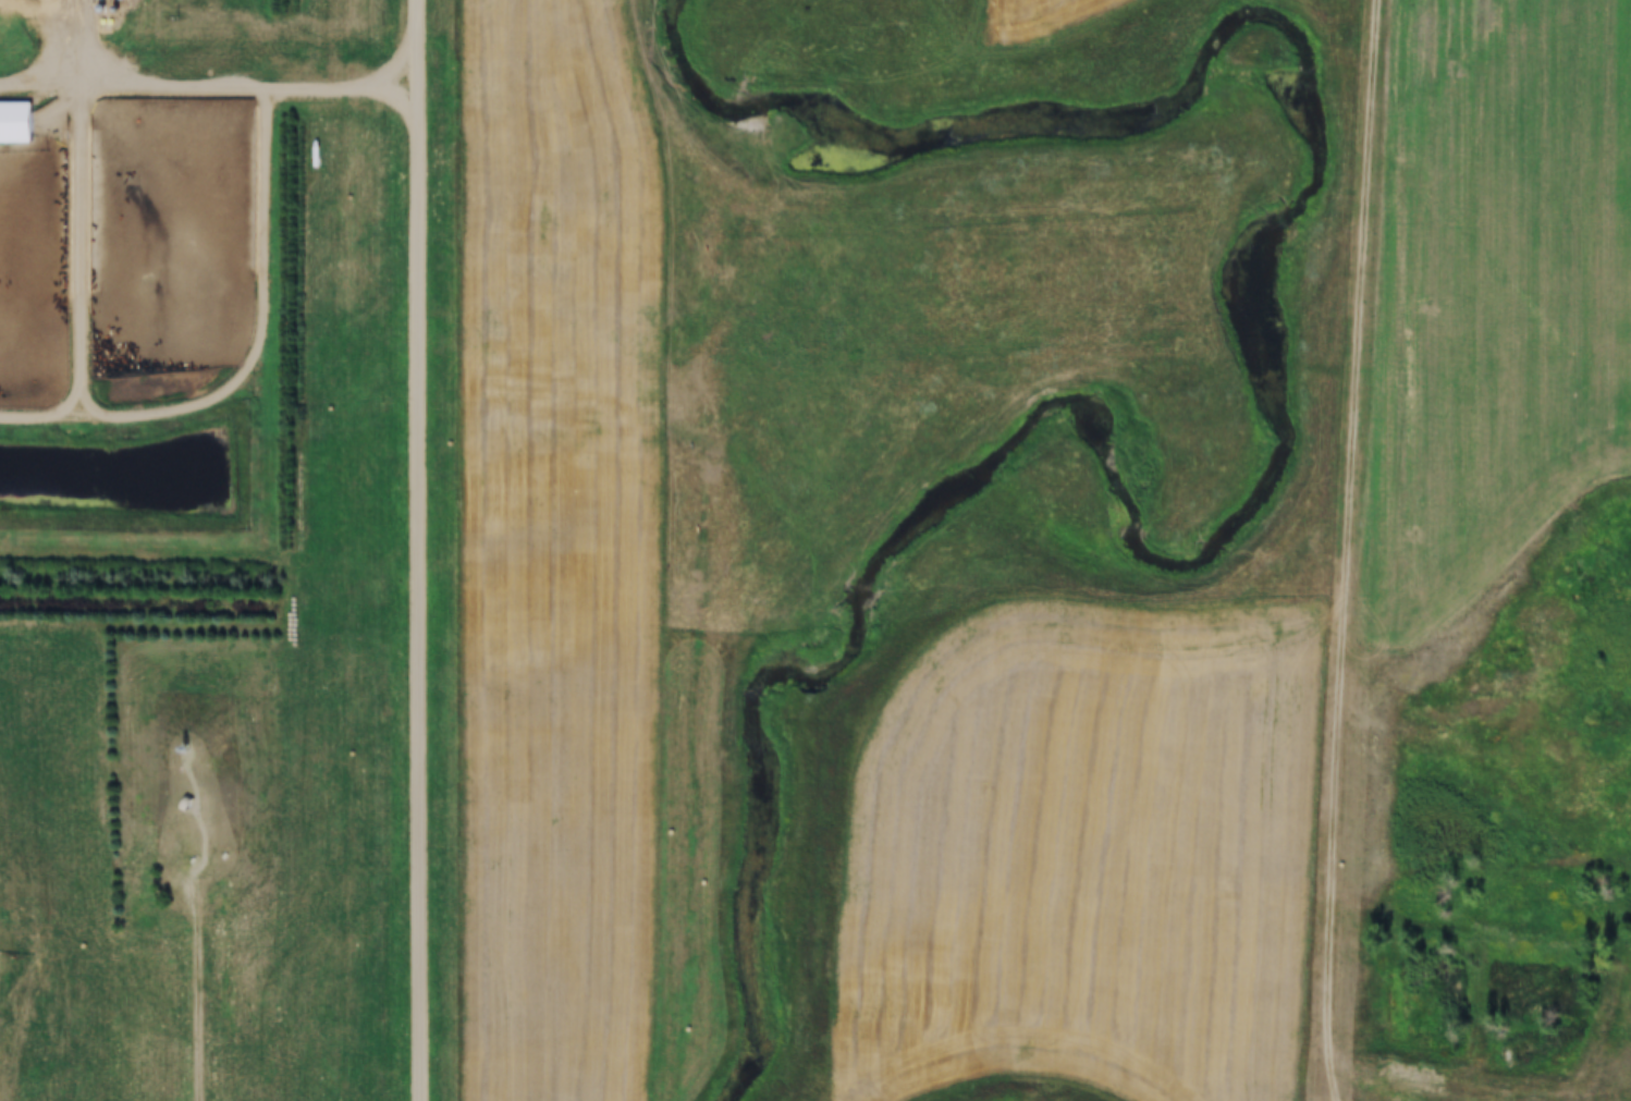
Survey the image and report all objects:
building: (5, 138)
road: (1356, 414)
road: (419, 550)
road: (1495, 592)
road: (1332, 890)
road: (203, 993)

